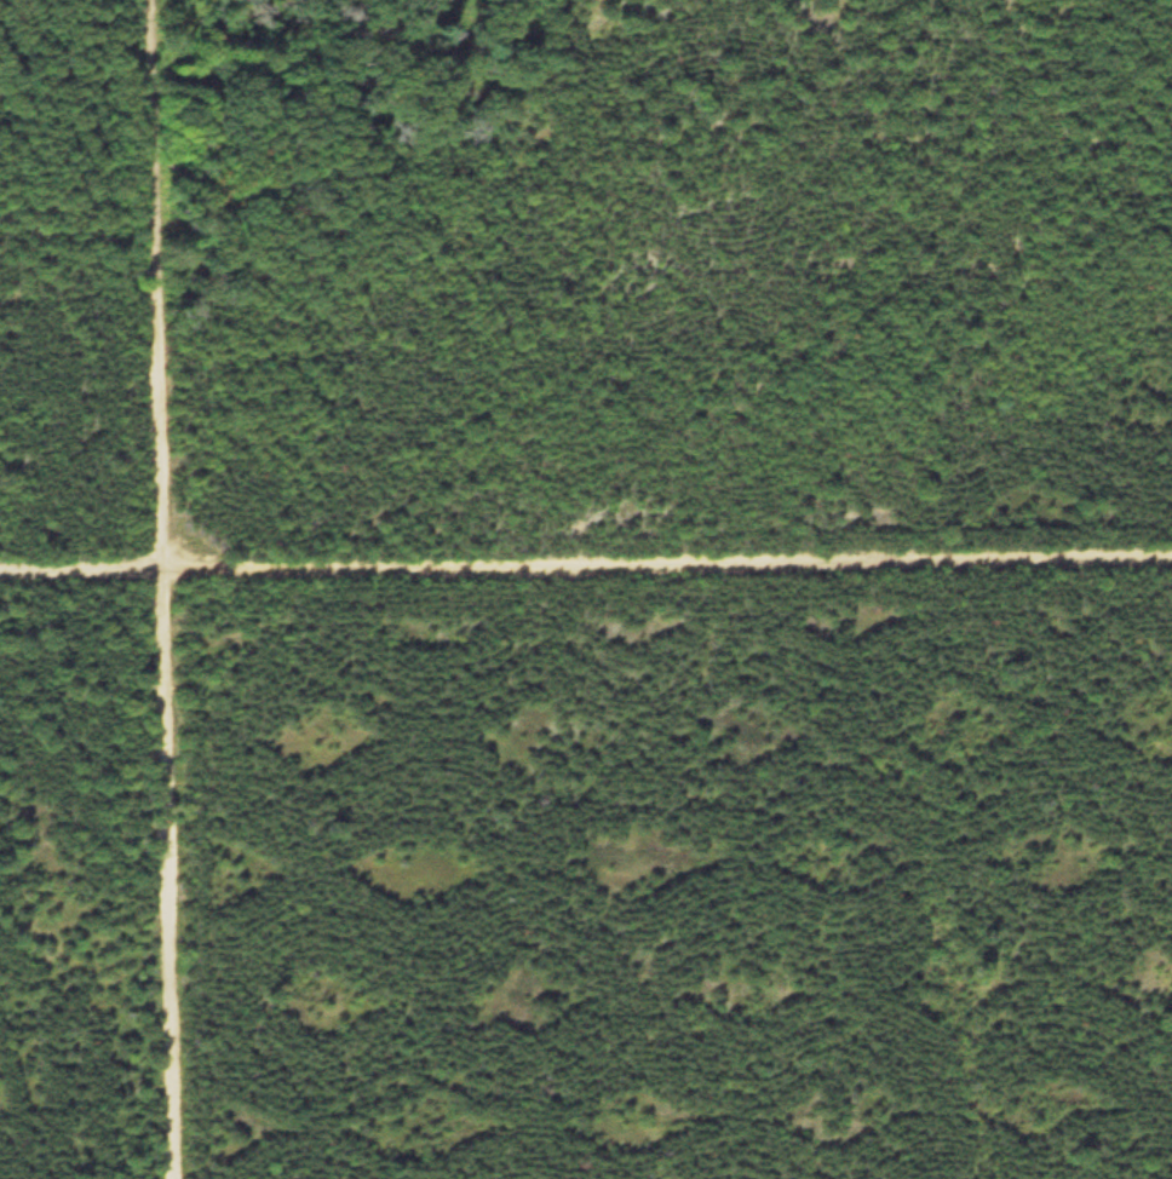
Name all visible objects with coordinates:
road: (586, 567)
road: (167, 589)

